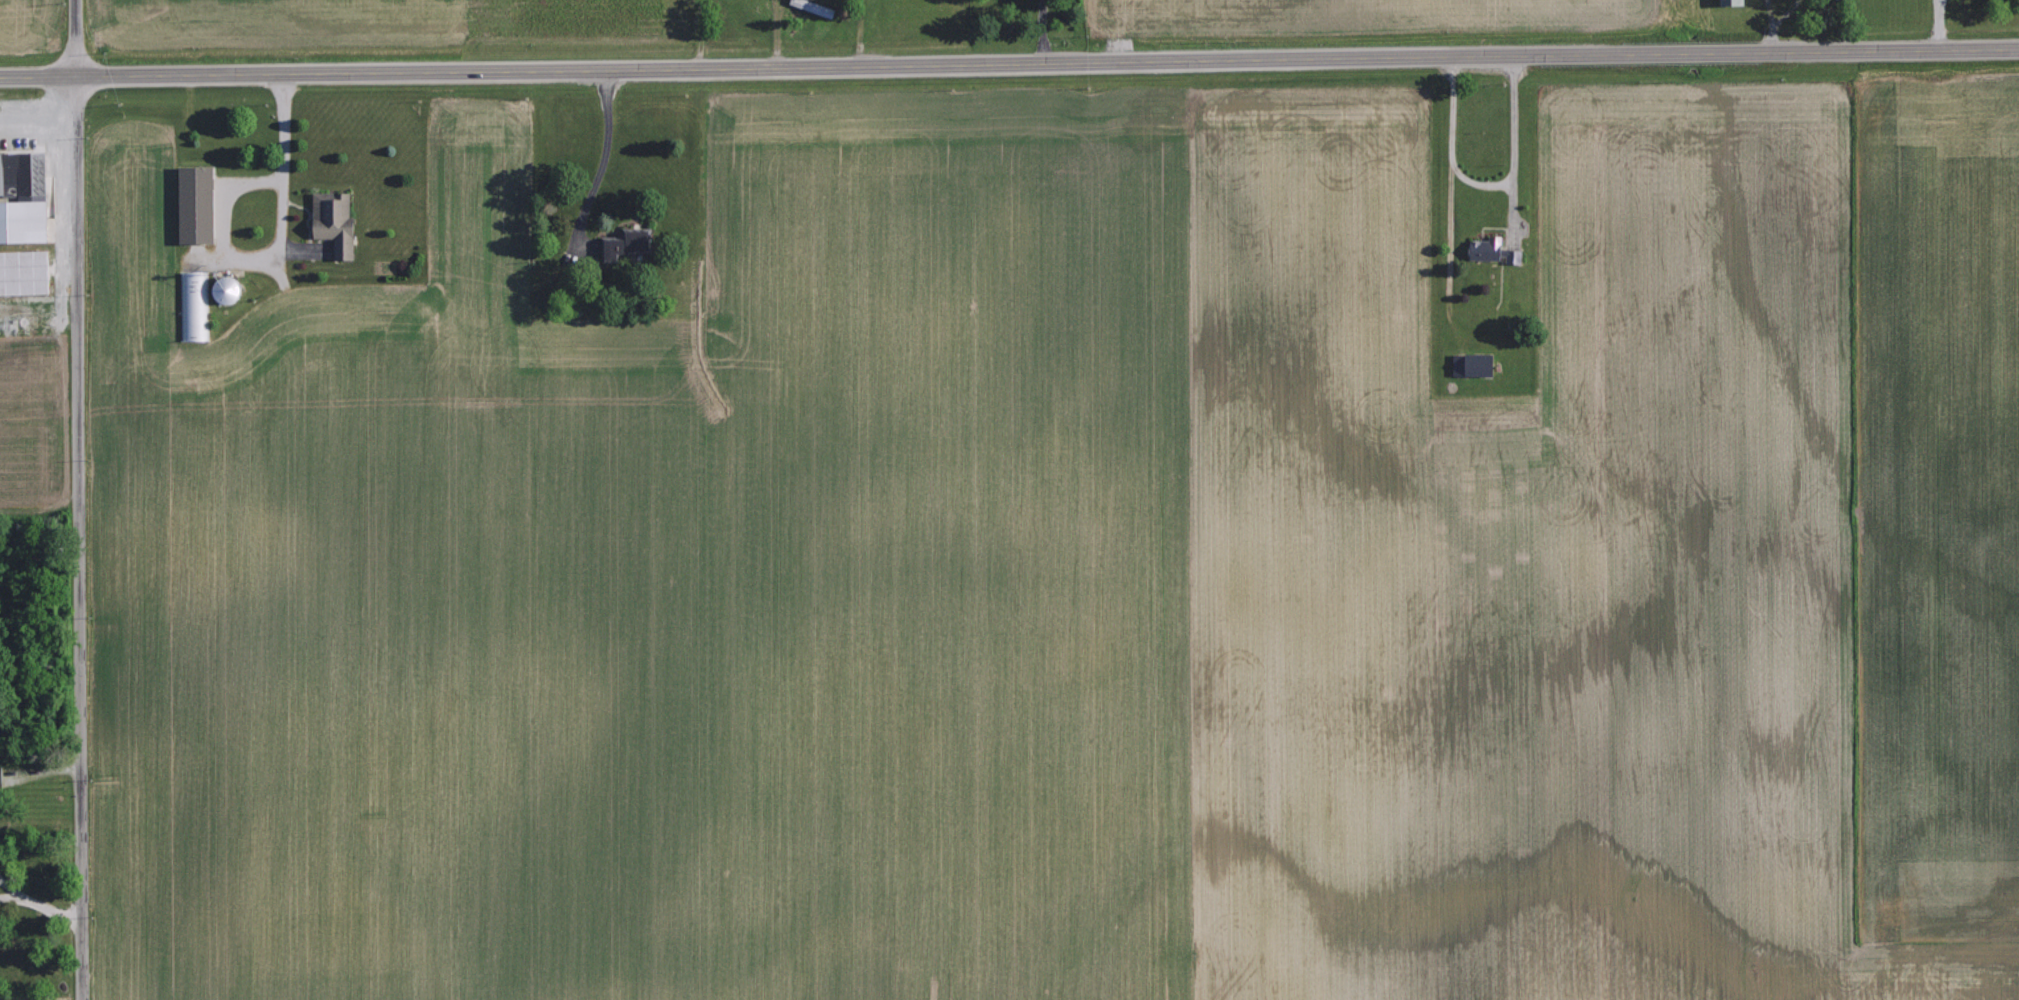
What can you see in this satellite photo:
building: (1726, 2)
road: (1009, 60)
road: (44, 114)
road: (606, 156)
building: (201, 205)
building: (325, 225)
building: (636, 244)
building: (27, 272)
building: (232, 291)
building: (194, 306)
building: (1469, 365)
road: (77, 500)
building: (1, 777)
road: (41, 903)

